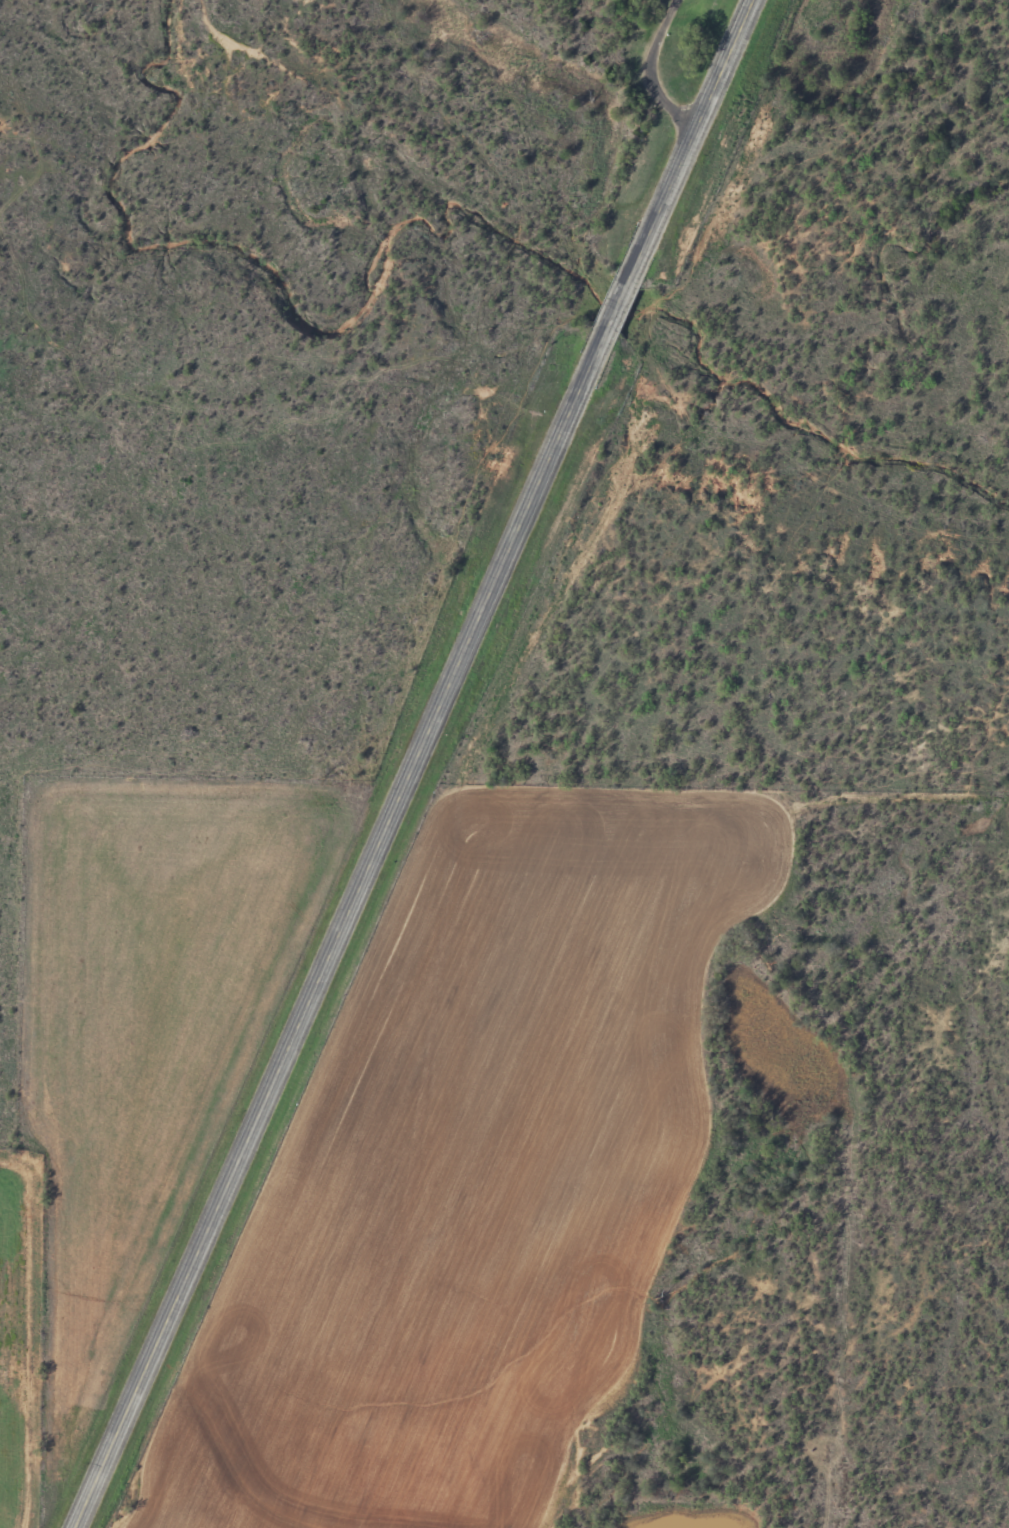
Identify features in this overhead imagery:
road: (421, 764)

